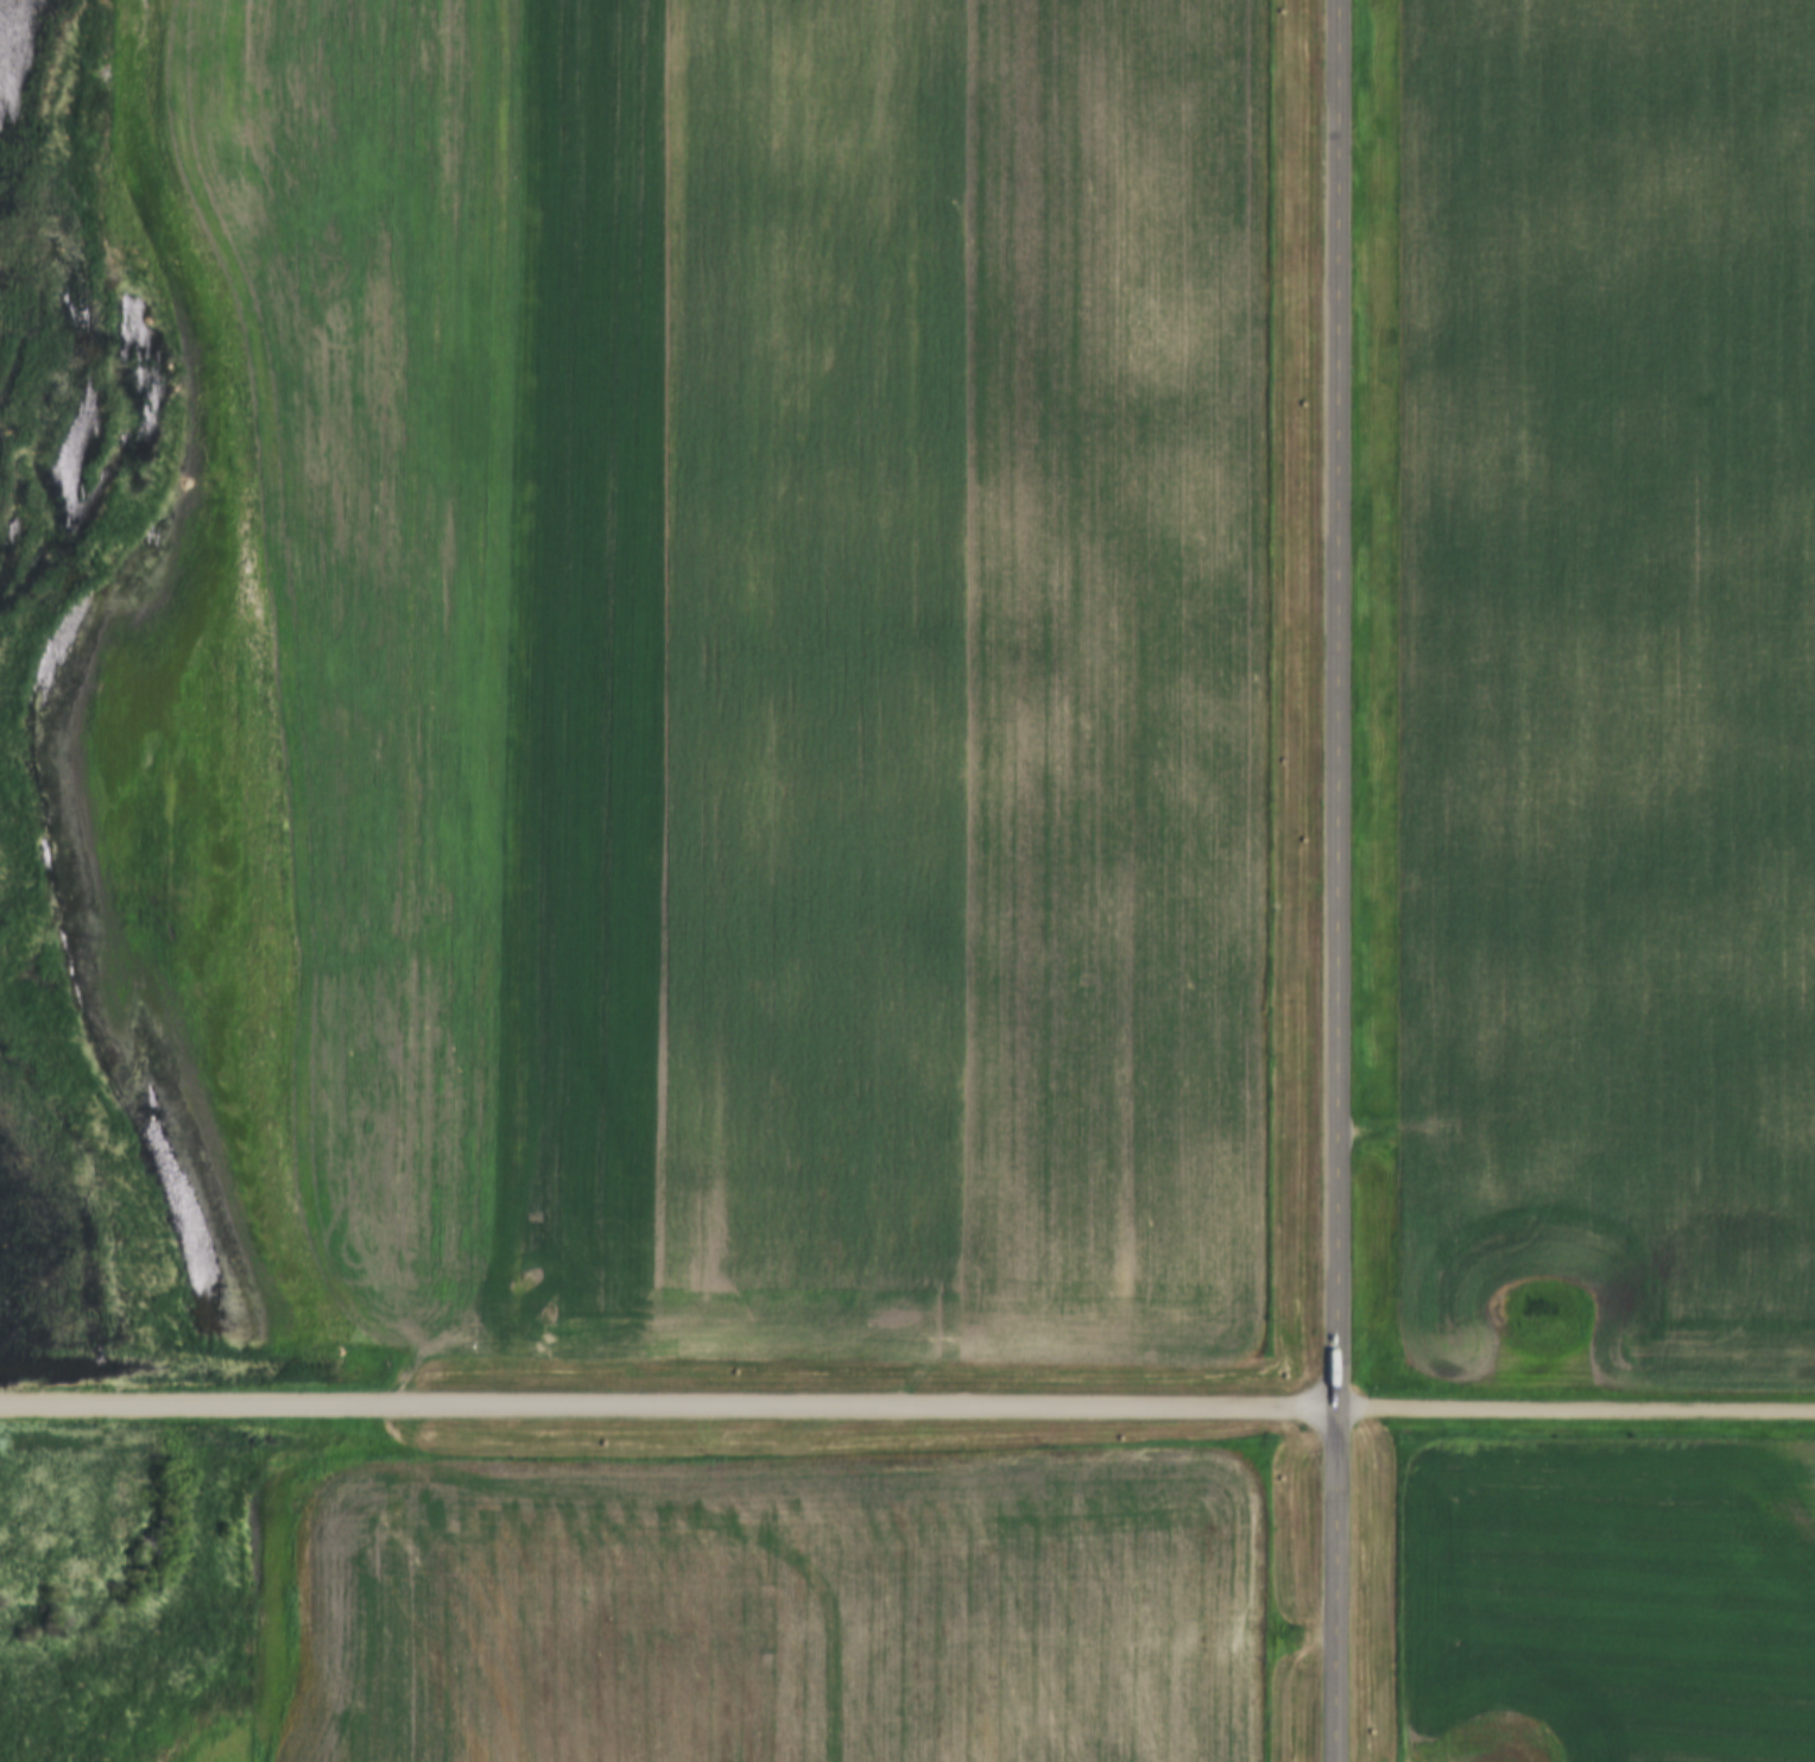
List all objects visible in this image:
road: (1336, 880)
road: (907, 1407)

